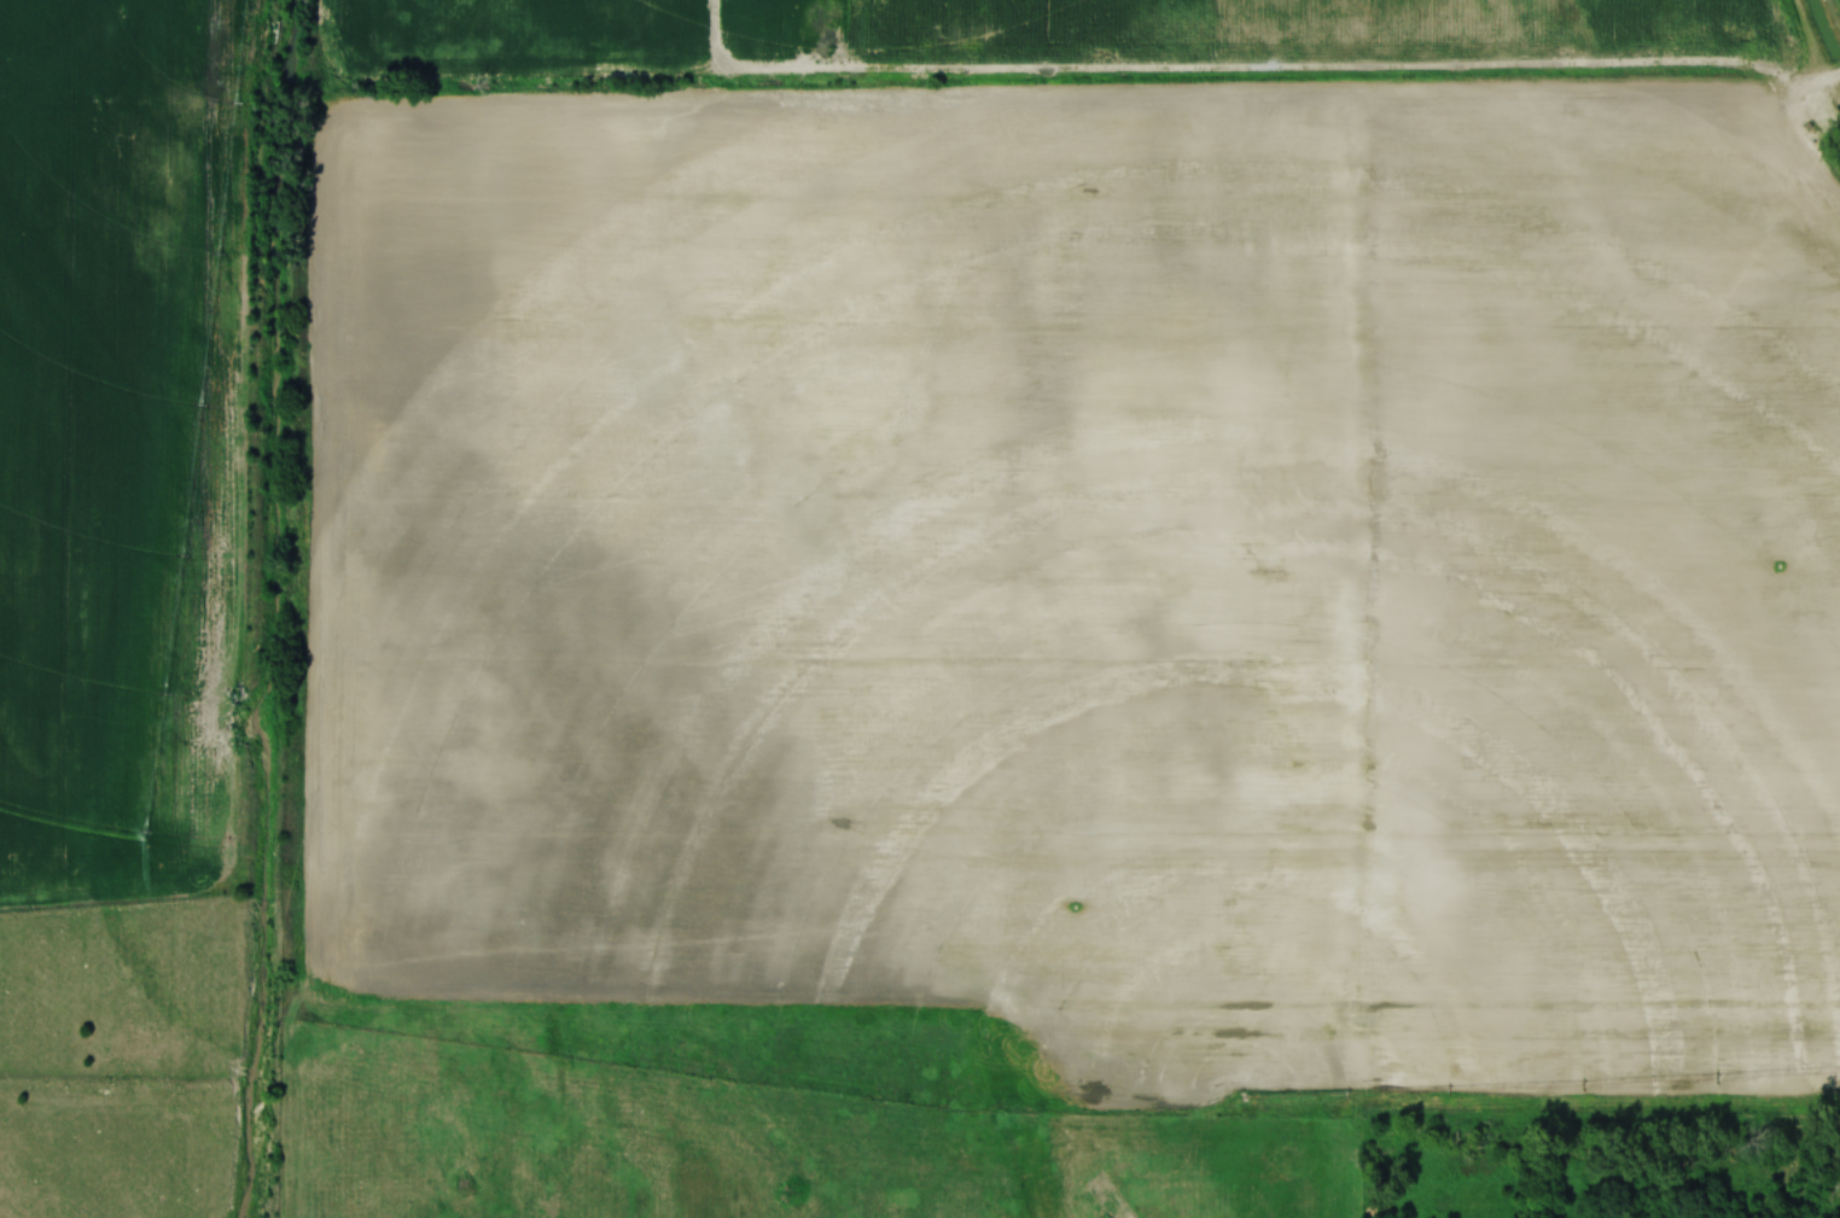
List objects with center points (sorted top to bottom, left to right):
road: (272, 19)
road: (146, 104)
building: (1754, 105)

